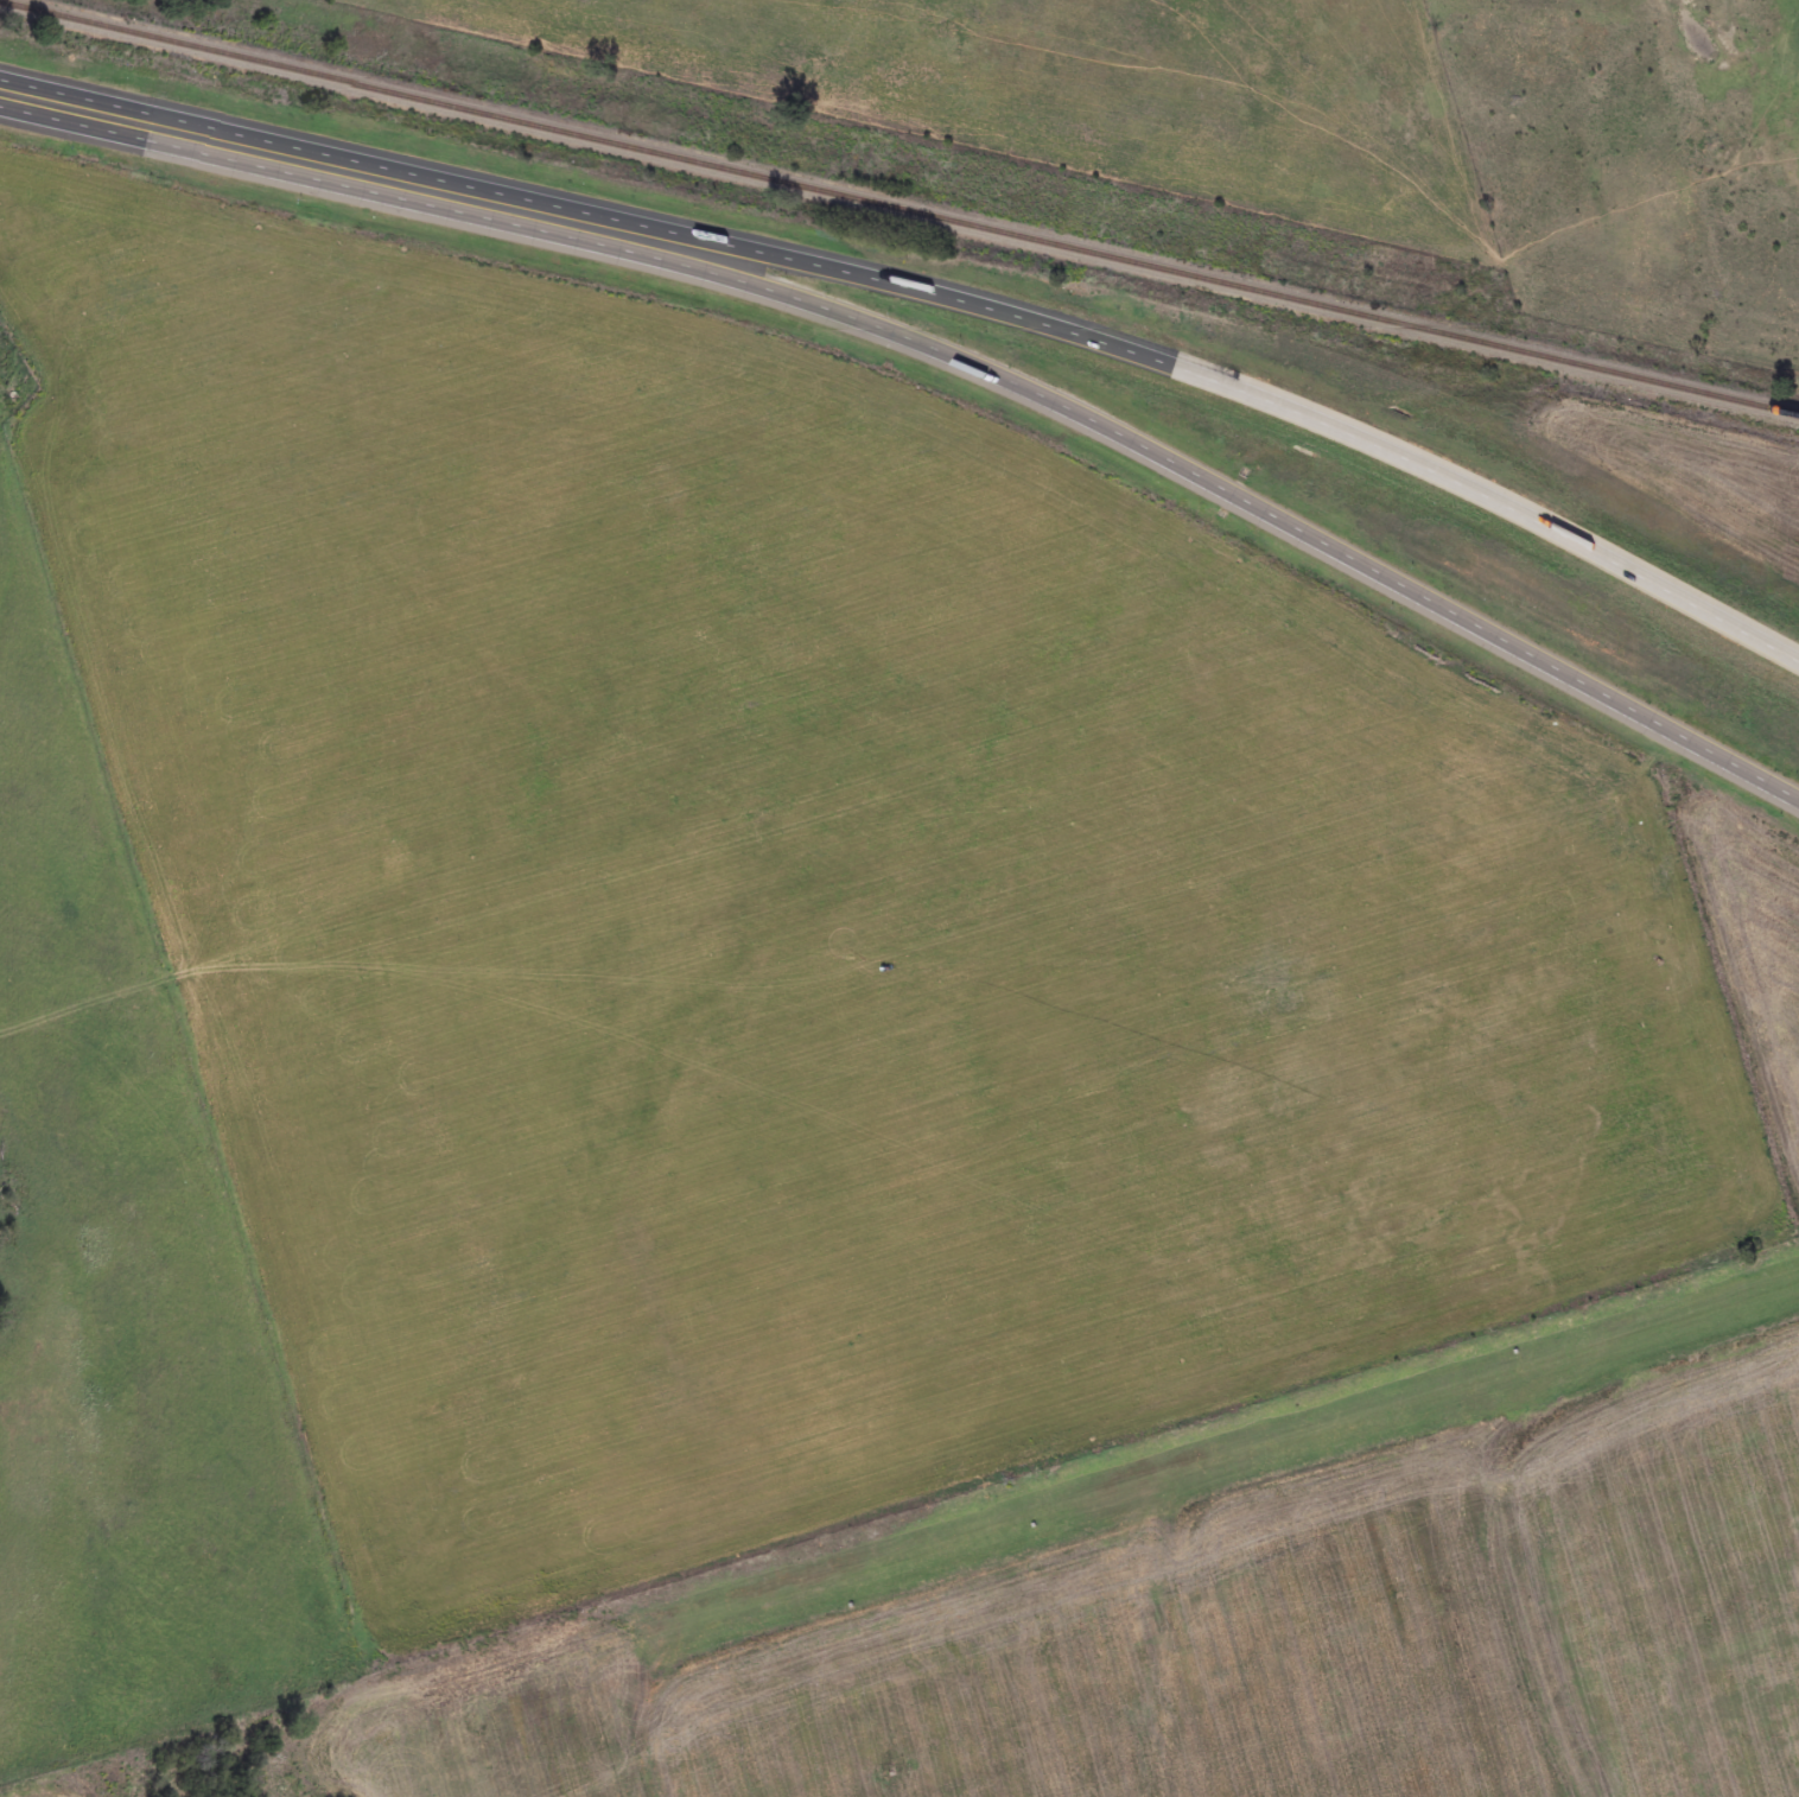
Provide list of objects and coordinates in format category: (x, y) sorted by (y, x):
road: (262, 148)
railway: (899, 205)
road: (1185, 367)
road: (1178, 465)

